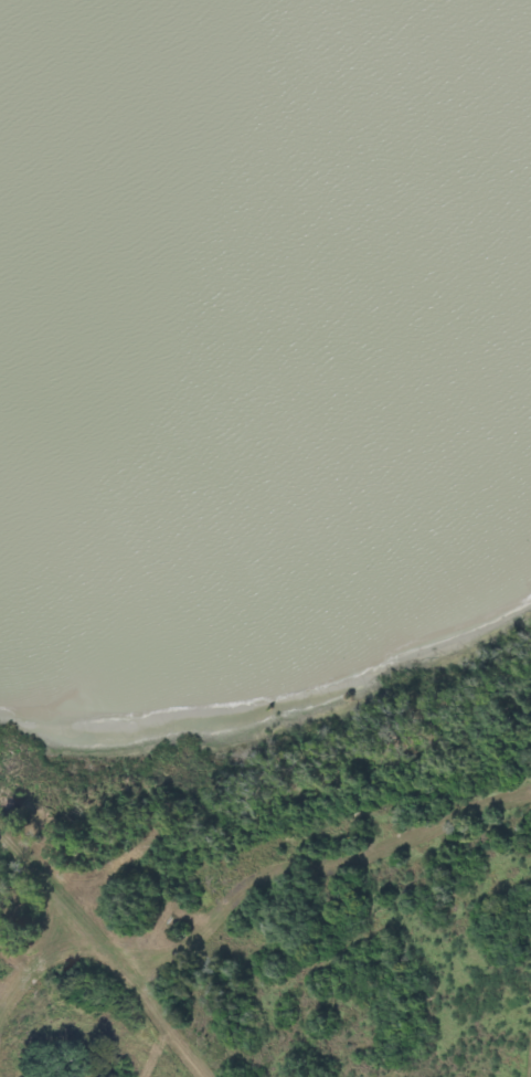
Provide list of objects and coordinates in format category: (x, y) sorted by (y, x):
road: (106, 955)

